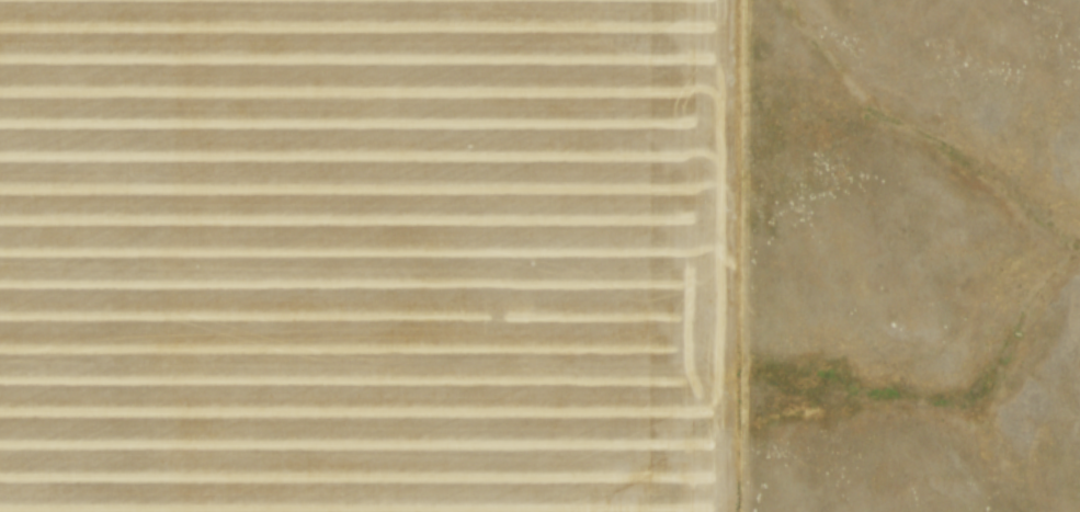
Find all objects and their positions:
crop: (366, 255)

